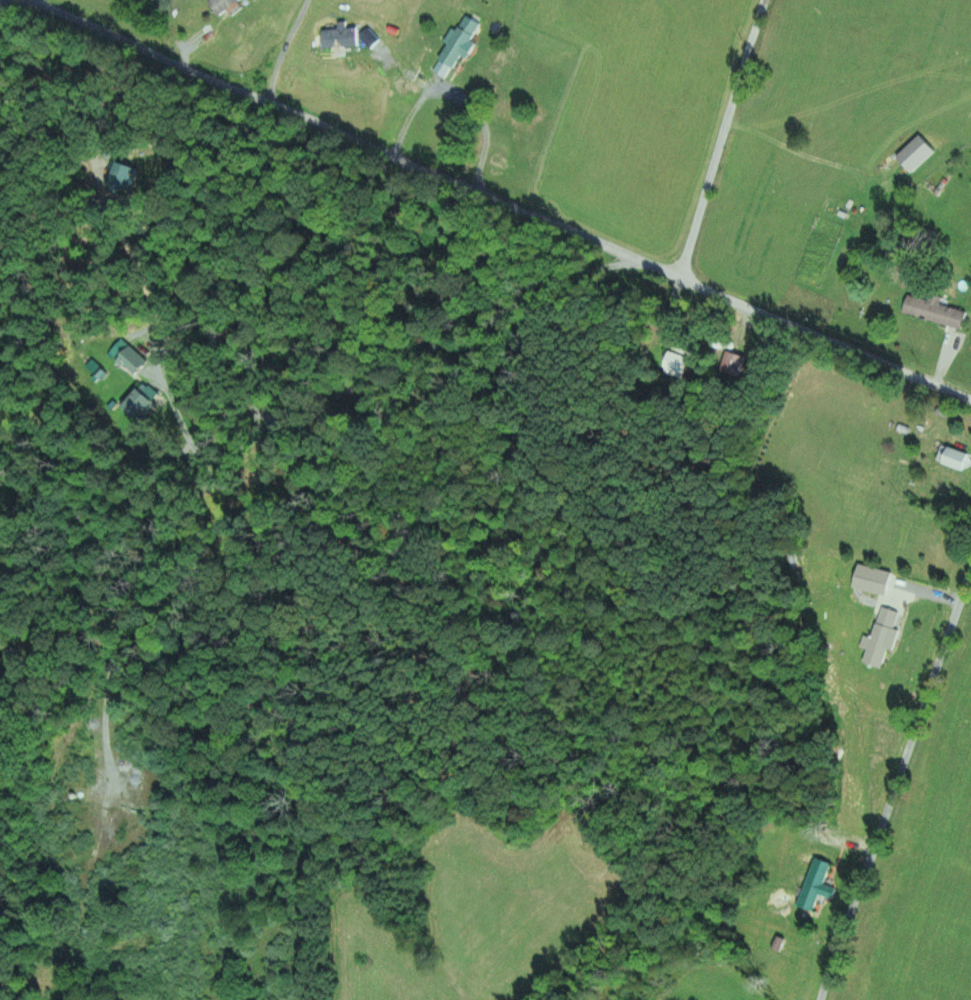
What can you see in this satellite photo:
building: (222, 6)
building: (460, 41)
road: (721, 140)
building: (915, 155)
building: (498, 159)
road: (498, 200)
building: (934, 311)
building: (132, 361)
building: (678, 365)
building: (137, 405)
building: (955, 459)
building: (882, 637)
road: (896, 785)
building: (814, 885)

